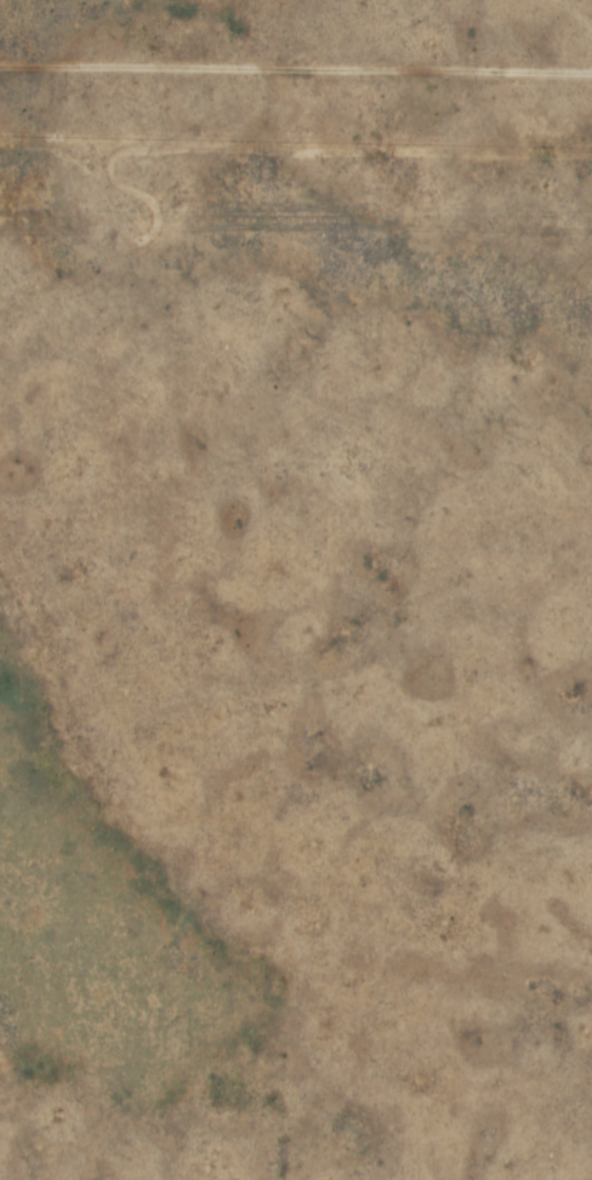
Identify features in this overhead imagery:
road: (580, 4)
road: (296, 6)

